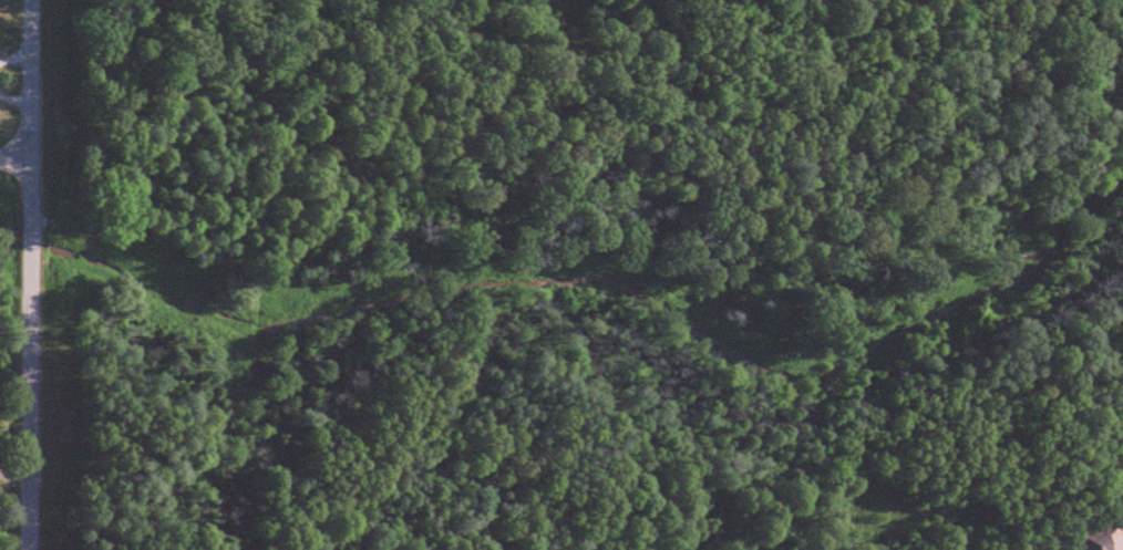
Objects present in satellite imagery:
road: (14, 166)
road: (29, 274)
road: (14, 477)
building: (1105, 542)

